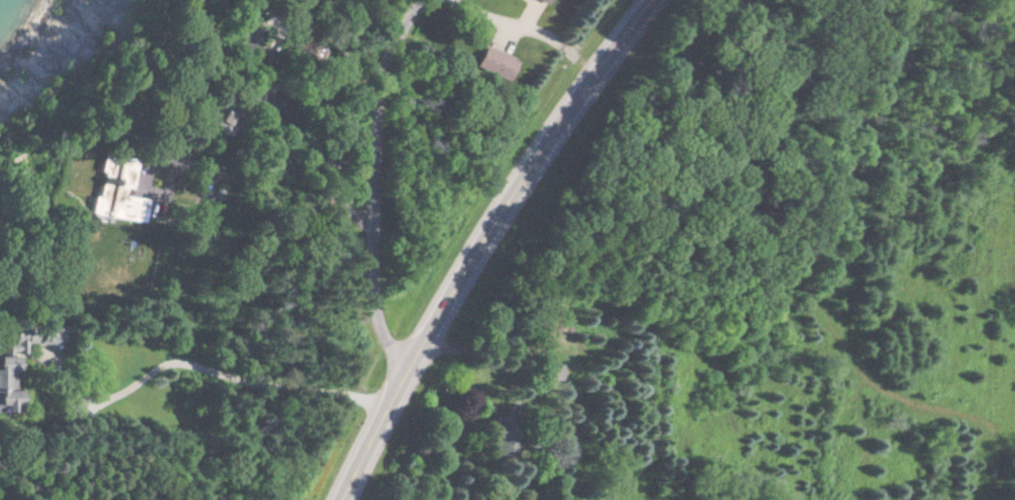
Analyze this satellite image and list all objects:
building: (527, 0)
building: (544, 1)
road: (489, 21)
building: (495, 64)
road: (270, 156)
road: (381, 188)
building: (119, 204)
road: (490, 241)
building: (554, 372)
road: (264, 392)
road: (18, 403)

